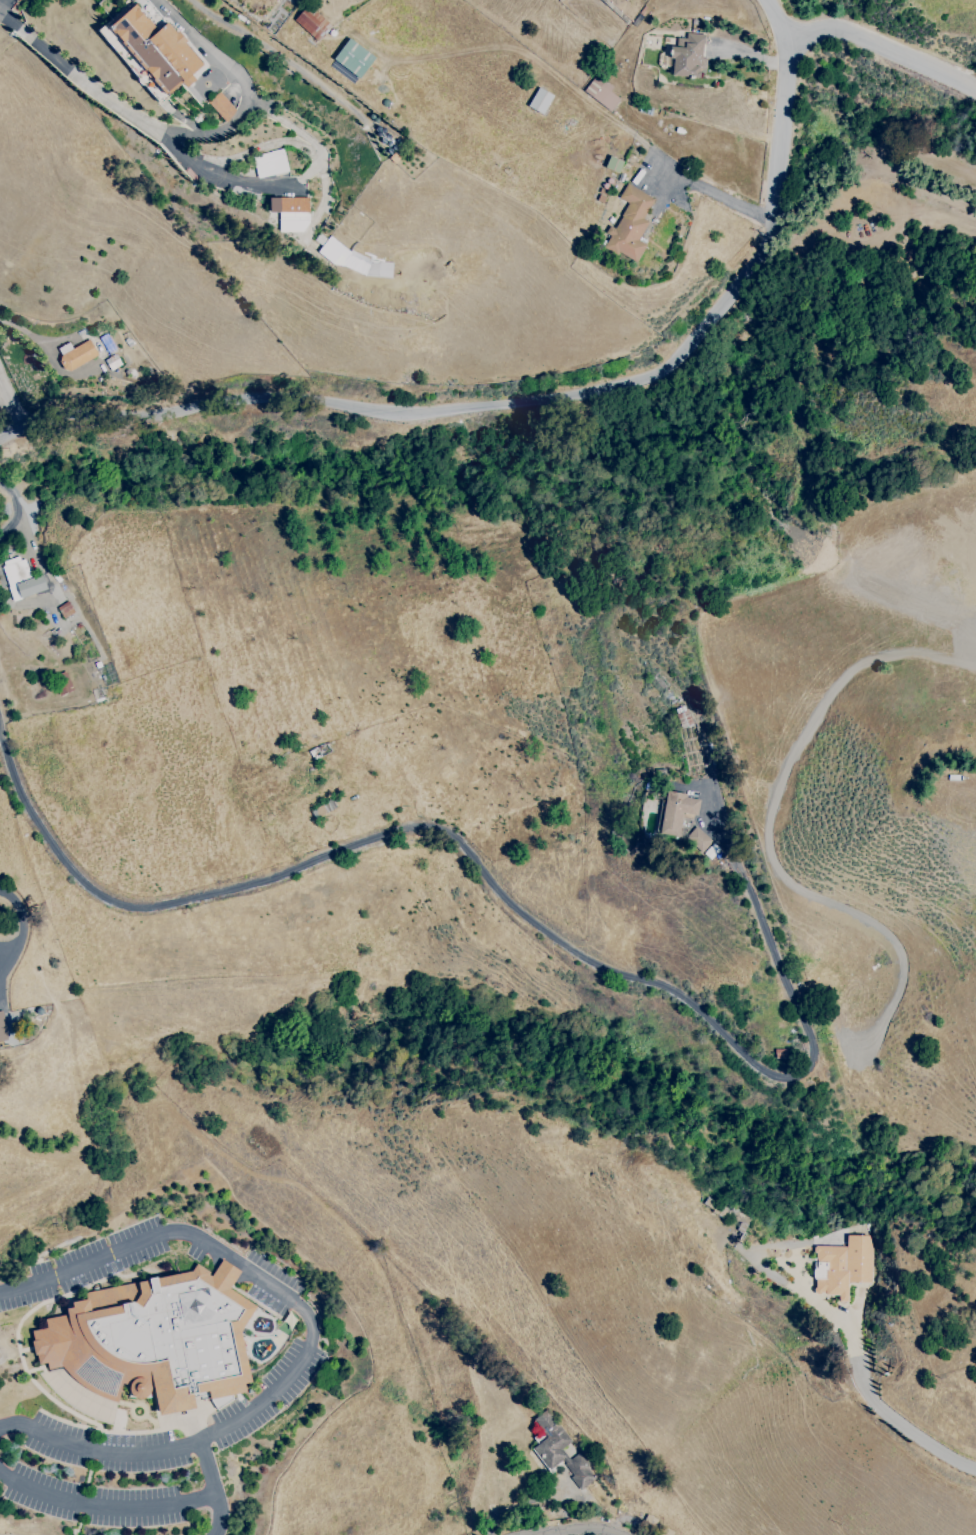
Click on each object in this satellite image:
road: (5, 5)
road: (885, 46)
building: (689, 56)
road: (244, 83)
building: (601, 92)
building: (539, 101)
road: (624, 129)
road: (665, 162)
road: (255, 187)
road: (735, 204)
building: (288, 206)
building: (630, 225)
road: (22, 330)
building: (76, 356)
road: (98, 358)
road: (547, 402)
road: (11, 403)
road: (19, 512)
building: (22, 578)
building: (676, 812)
road: (146, 908)
road: (21, 932)
road: (709, 1022)
building: (2, 1028)
building: (726, 1215)
building: (845, 1265)
road: (310, 1337)
building: (155, 1339)
road: (889, 1416)
building: (537, 1434)
building: (560, 1452)
parking lot: (95, 1483)
road: (213, 1490)
road: (104, 1508)
road: (574, 1531)

